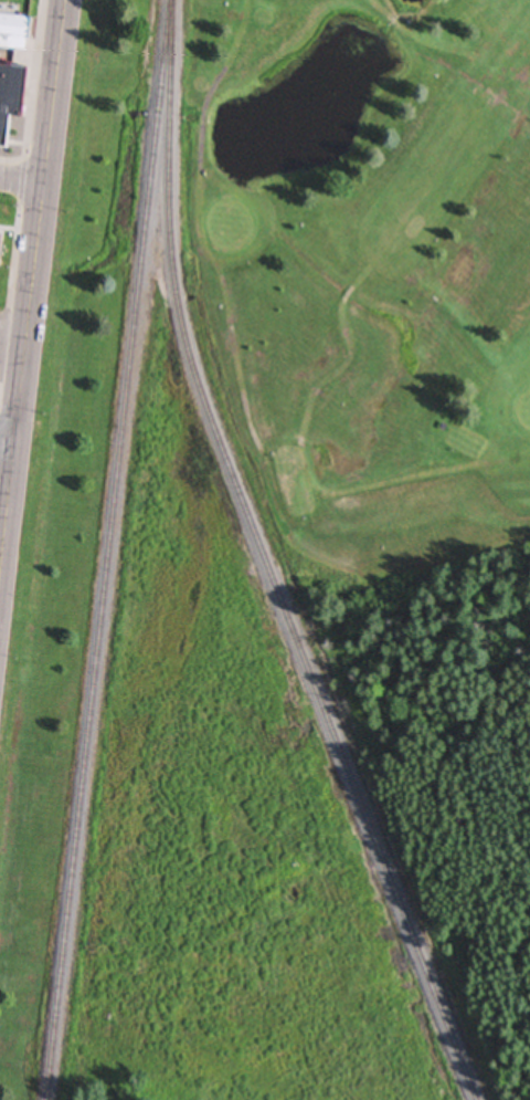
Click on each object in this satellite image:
building: (13, 32)
building: (10, 97)
road: (22, 180)
park: (231, 229)
building: (0, 234)
road: (33, 286)
park: (377, 327)
park: (523, 411)
road: (8, 438)
railway: (107, 549)
railway: (266, 562)
park: (474, 870)

